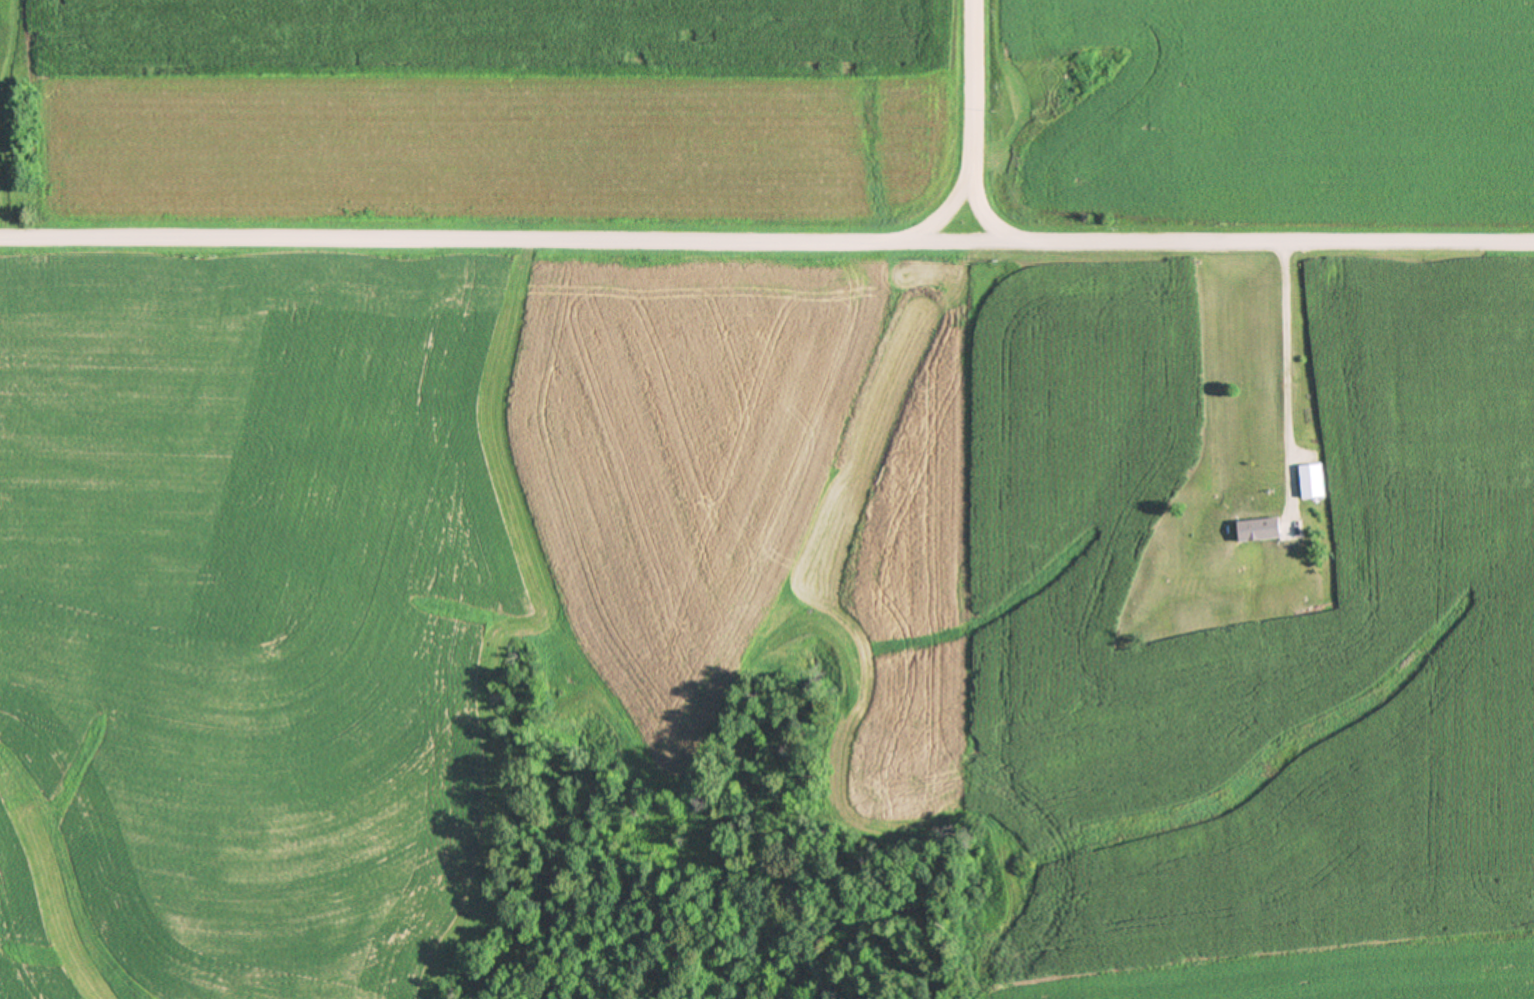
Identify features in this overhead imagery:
road: (976, 122)
road: (766, 242)
road: (1285, 379)
building: (1313, 480)
building: (1260, 528)

